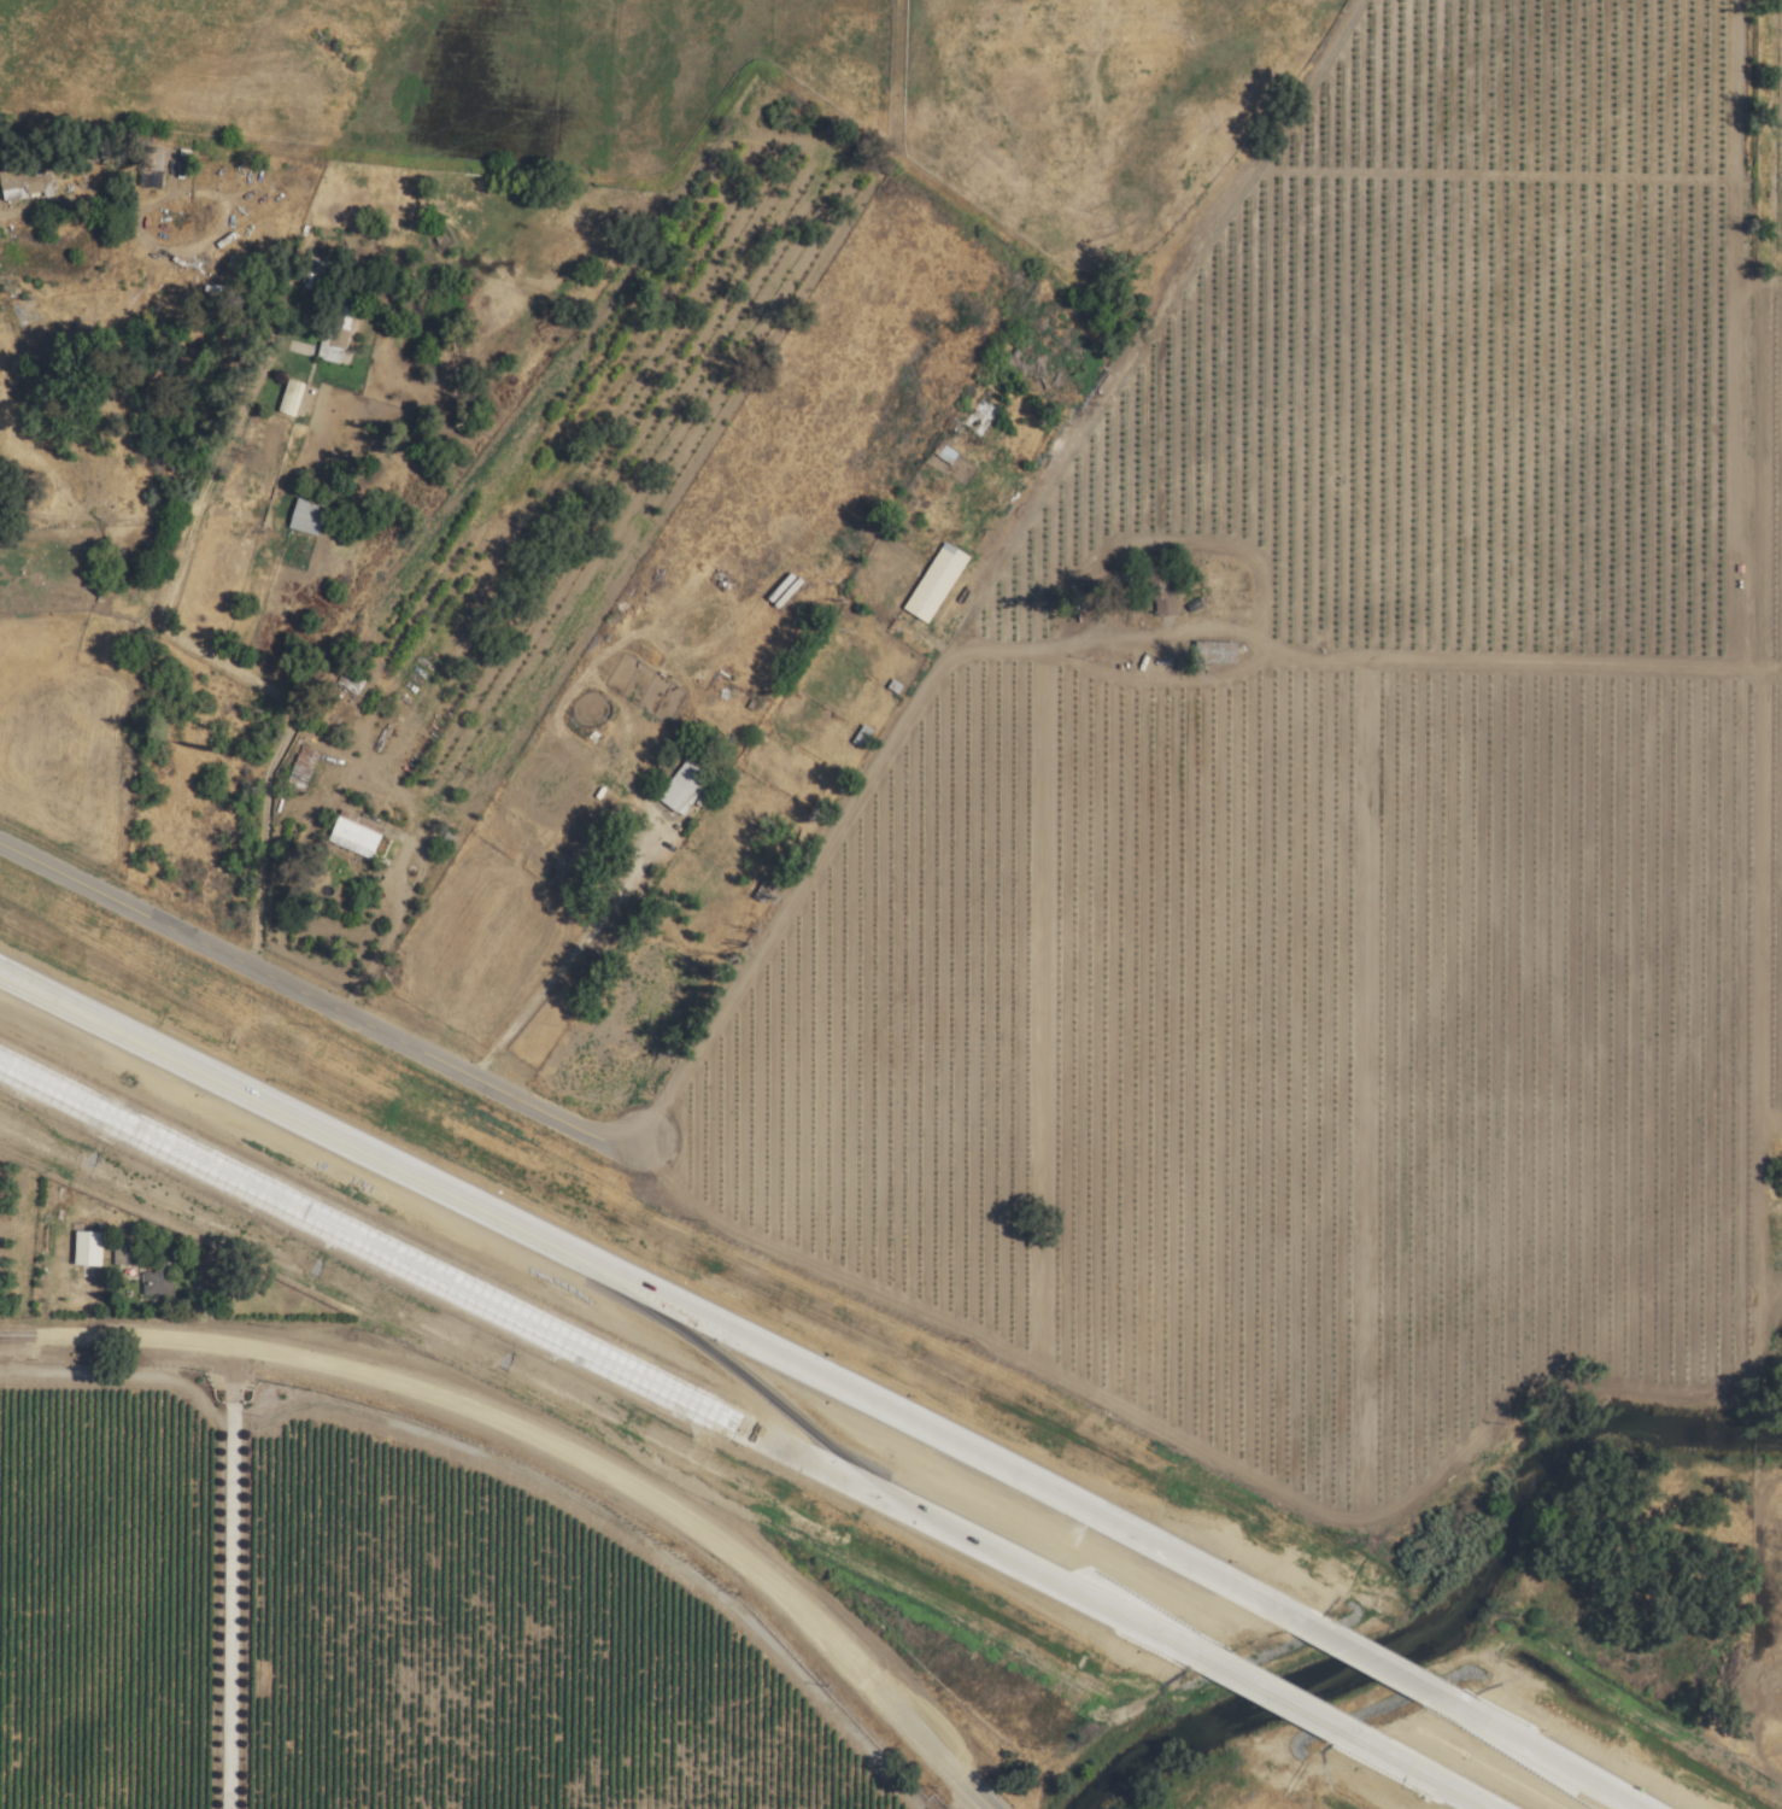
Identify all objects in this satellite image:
crop: (375, 98)
crop: (1113, 106)
building: (151, 168)
crop: (918, 172)
building: (24, 182)
power tower: (24, 314)
building: (335, 338)
crop: (1179, 375)
building: (291, 397)
crop: (1356, 486)
building: (304, 516)
building: (934, 582)
crop: (1781, 587)
building: (1162, 597)
crop: (1648, 697)
crop: (1753, 709)
building: (300, 768)
building: (684, 784)
road: (851, 821)
building: (353, 836)
road: (399, 900)
road: (568, 958)
road: (316, 1000)
crop: (1307, 1061)
road: (159, 1137)
building: (86, 1248)
building: (124, 1254)
building: (156, 1281)
road: (656, 1296)
road: (257, 1350)
road: (767, 1439)
road: (655, 1503)
road: (231, 1577)
road: (1374, 1661)
road: (1272, 1698)
road: (889, 1710)
road: (1537, 1754)
road: (1406, 1769)

